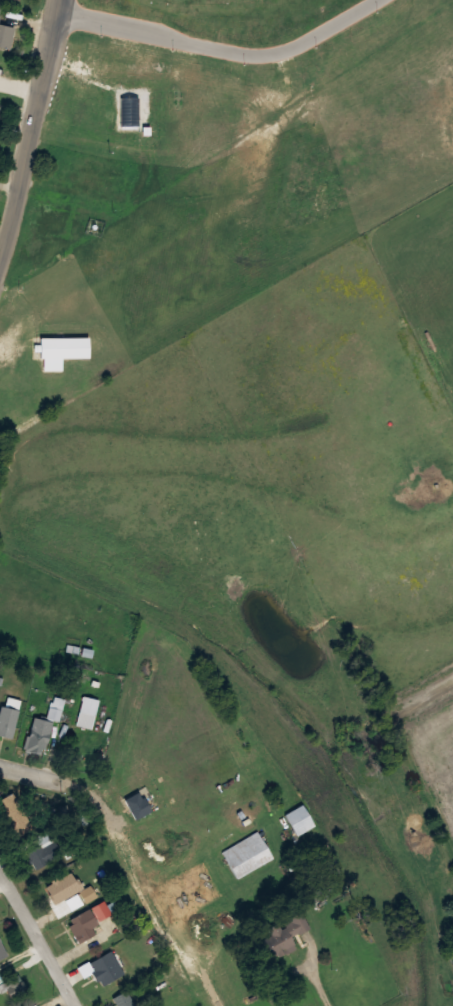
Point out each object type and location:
building: (1, 7)
building: (6, 35)
road: (224, 54)
road: (31, 135)
building: (85, 167)
building: (60, 349)
crop: (275, 411)
building: (57, 708)
building: (87, 711)
building: (6, 721)
building: (38, 735)
road: (41, 776)
building: (14, 814)
building: (299, 819)
building: (44, 850)
building: (247, 853)
building: (63, 886)
building: (82, 898)
building: (89, 921)
building: (284, 933)
road: (41, 934)
building: (2, 950)
building: (452, 963)
building: (452, 965)
building: (104, 968)
road: (321, 985)
building: (13, 986)
building: (123, 999)

